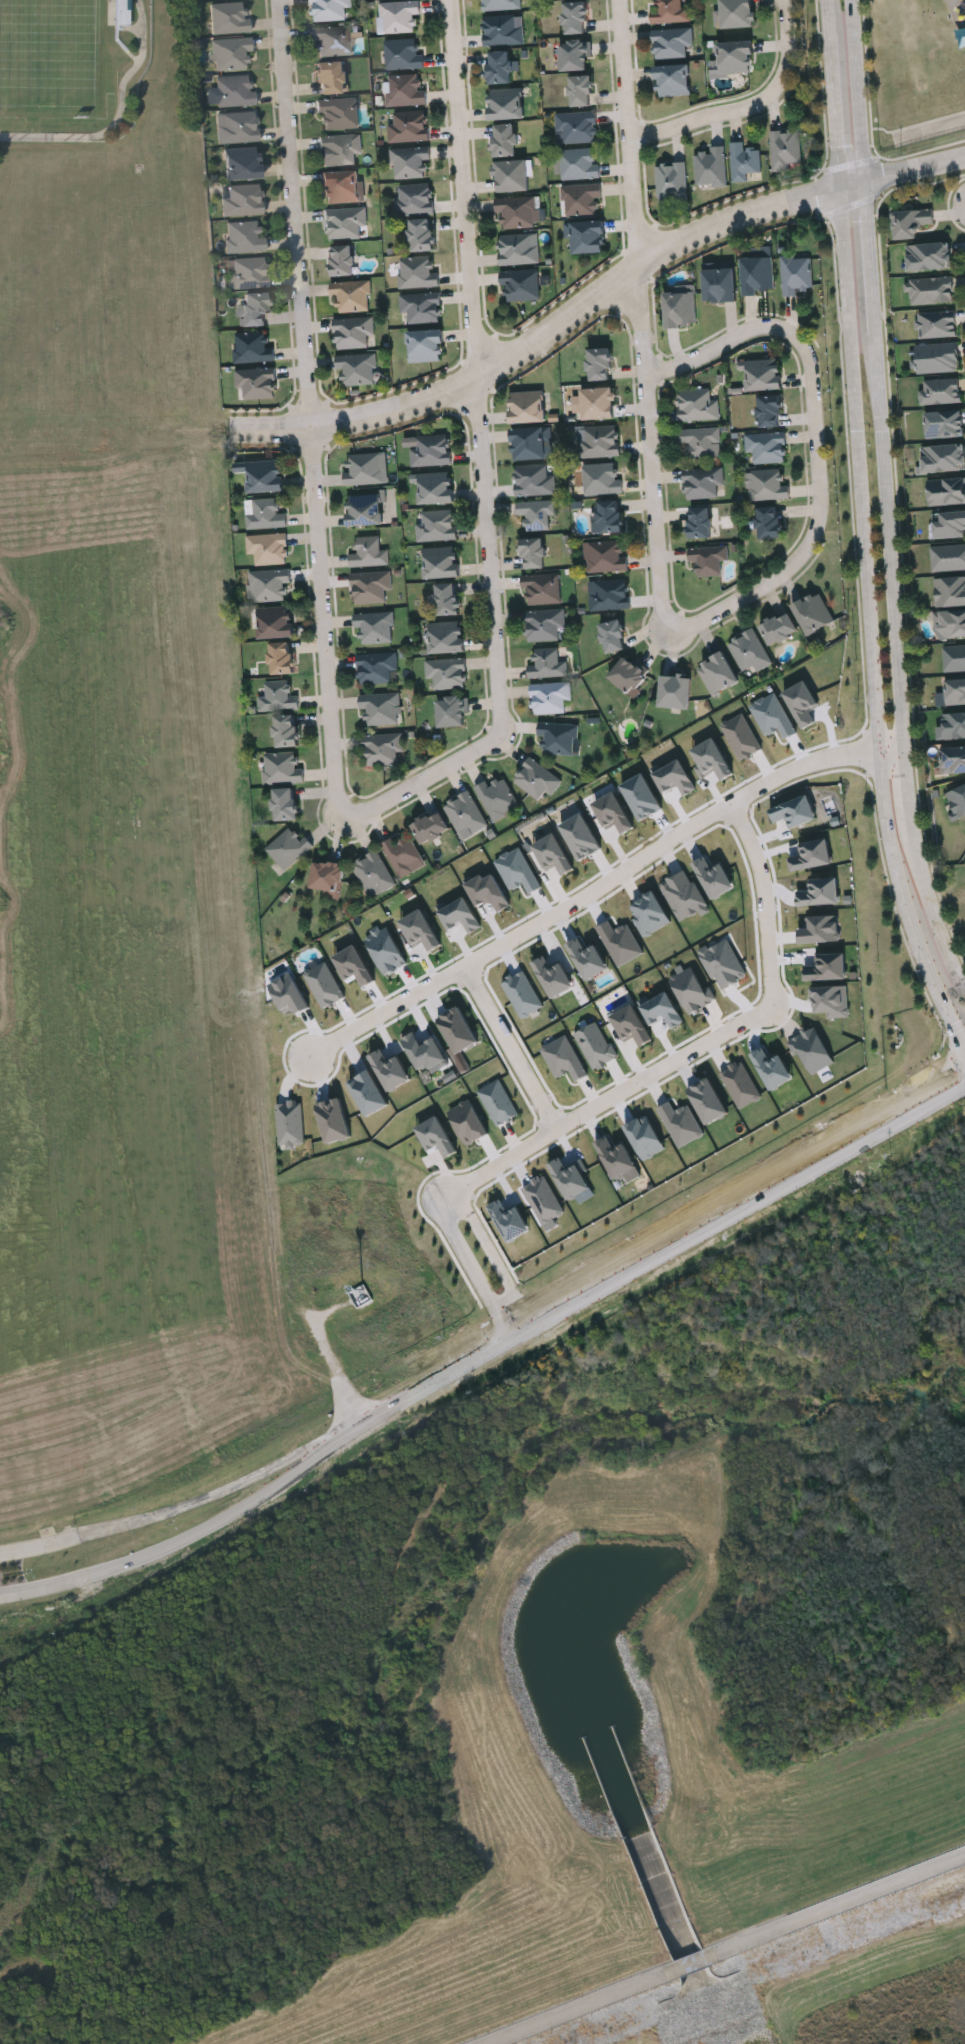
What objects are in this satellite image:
building: (499, 4)
building: (330, 10)
building: (670, 12)
building: (736, 13)
building: (399, 16)
building: (574, 17)
building: (229, 19)
building: (502, 30)
building: (333, 41)
building: (671, 42)
road: (789, 42)
park: (48, 52)
building: (231, 53)
building: (402, 54)
building: (574, 55)
building: (736, 57)
building: (499, 67)
building: (329, 79)
building: (672, 80)
building: (404, 89)
building: (580, 90)
road: (857, 90)
building: (235, 92)
road: (833, 94)
building: (505, 103)
building: (337, 114)
road: (710, 117)
building: (408, 125)
building: (576, 126)
building: (238, 128)
road: (630, 129)
building: (504, 140)
building: (340, 149)
building: (784, 149)
building: (743, 161)
building: (410, 162)
building: (579, 163)
building: (243, 164)
building: (710, 166)
road: (913, 168)
building: (511, 175)
building: (671, 182)
building: (340, 186)
road: (466, 187)
building: (413, 199)
building: (581, 199)
building: (242, 200)
building: (517, 211)
road: (294, 212)
road: (751, 213)
building: (909, 220)
building: (344, 222)
park: (100, 224)
building: (421, 235)
building: (245, 236)
building: (586, 236)
building: (518, 248)
building: (927, 254)
building: (341, 261)
building: (417, 272)
building: (248, 273)
building: (796, 274)
building: (757, 275)
building: (520, 284)
building: (719, 285)
building: (929, 288)
building: (351, 295)
road: (872, 305)
building: (420, 306)
building: (680, 309)
road: (848, 309)
building: (253, 310)
building: (935, 322)
building: (353, 332)
building: (426, 346)
building: (253, 347)
building: (936, 356)
building: (598, 364)
building: (356, 368)
building: (764, 376)
building: (255, 383)
road: (452, 386)
building: (939, 389)
building: (598, 404)
building: (697, 405)
building: (527, 406)
building: (770, 412)
building: (943, 423)
building: (597, 441)
building: (701, 442)
building: (531, 443)
road: (815, 443)
building: (766, 447)
building: (428, 450)
road: (658, 452)
building: (942, 456)
building: (366, 468)
building: (262, 475)
building: (601, 478)
building: (533, 480)
building: (702, 482)
building: (766, 485)
building: (435, 488)
building: (946, 490)
building: (364, 509)
building: (536, 513)
building: (264, 514)
building: (610, 516)
building: (700, 522)
building: (769, 522)
building: (949, 522)
building: (436, 525)
building: (268, 548)
building: (369, 552)
building: (533, 552)
road: (492, 555)
building: (605, 555)
building: (948, 557)
building: (707, 559)
building: (441, 562)
building: (270, 585)
building: (370, 586)
building: (541, 588)
building: (949, 589)
building: (610, 594)
building: (448, 598)
building: (813, 611)
building: (949, 621)
building: (275, 622)
road: (324, 622)
building: (543, 624)
building: (374, 627)
building: (779, 628)
building: (612, 635)
building: (446, 637)
building: (749, 651)
building: (281, 656)
building: (954, 656)
building: (547, 663)
building: (376, 667)
building: (446, 672)
building: (717, 672)
building: (627, 674)
building: (674, 690)
building: (952, 692)
building: (278, 696)
building: (549, 697)
building: (803, 703)
building: (379, 708)
building: (451, 711)
road: (901, 715)
building: (773, 716)
building: (952, 725)
building: (285, 729)
building: (742, 736)
building: (558, 738)
road: (876, 742)
building: (382, 747)
building: (952, 756)
building: (711, 760)
building: (281, 768)
building: (675, 778)
road: (428, 779)
building: (535, 779)
building: (642, 796)
building: (496, 797)
building: (957, 798)
building: (284, 803)
building: (795, 811)
building: (614, 813)
building: (464, 815)
building: (430, 827)
building: (581, 836)
building: (288, 847)
building: (553, 853)
building: (403, 855)
building: (812, 855)
building: (518, 870)
building: (372, 873)
building: (714, 877)
building: (327, 878)
road: (604, 884)
building: (489, 891)
building: (820, 892)
building: (684, 895)
building: (650, 913)
building: (460, 915)
building: (821, 929)
building: (421, 930)
building: (621, 942)
building: (386, 949)
building: (588, 958)
building: (724, 963)
building: (354, 965)
building: (828, 967)
building: (554, 977)
building: (325, 984)
building: (692, 990)
building: (289, 994)
building: (523, 994)
building: (831, 1001)
building: (663, 1010)
building: (631, 1025)
building: (458, 1030)
building: (595, 1045)
road: (509, 1046)
building: (812, 1049)
building: (425, 1051)
road: (692, 1052)
building: (564, 1058)
building: (772, 1068)
building: (391, 1070)
building: (741, 1084)
building: (369, 1093)
building: (708, 1100)
building: (498, 1102)
building: (334, 1120)
building: (469, 1121)
building: (291, 1123)
building: (682, 1123)
building: (436, 1136)
building: (645, 1137)
building: (619, 1159)
building: (571, 1177)
building: (544, 1199)
building: (510, 1220)
road: (496, 1257)
road: (638, 1267)
road: (474, 1270)
road: (269, 1493)
road: (159, 1515)
road: (115, 1577)
road: (723, 1949)
park: (899, 2018)

